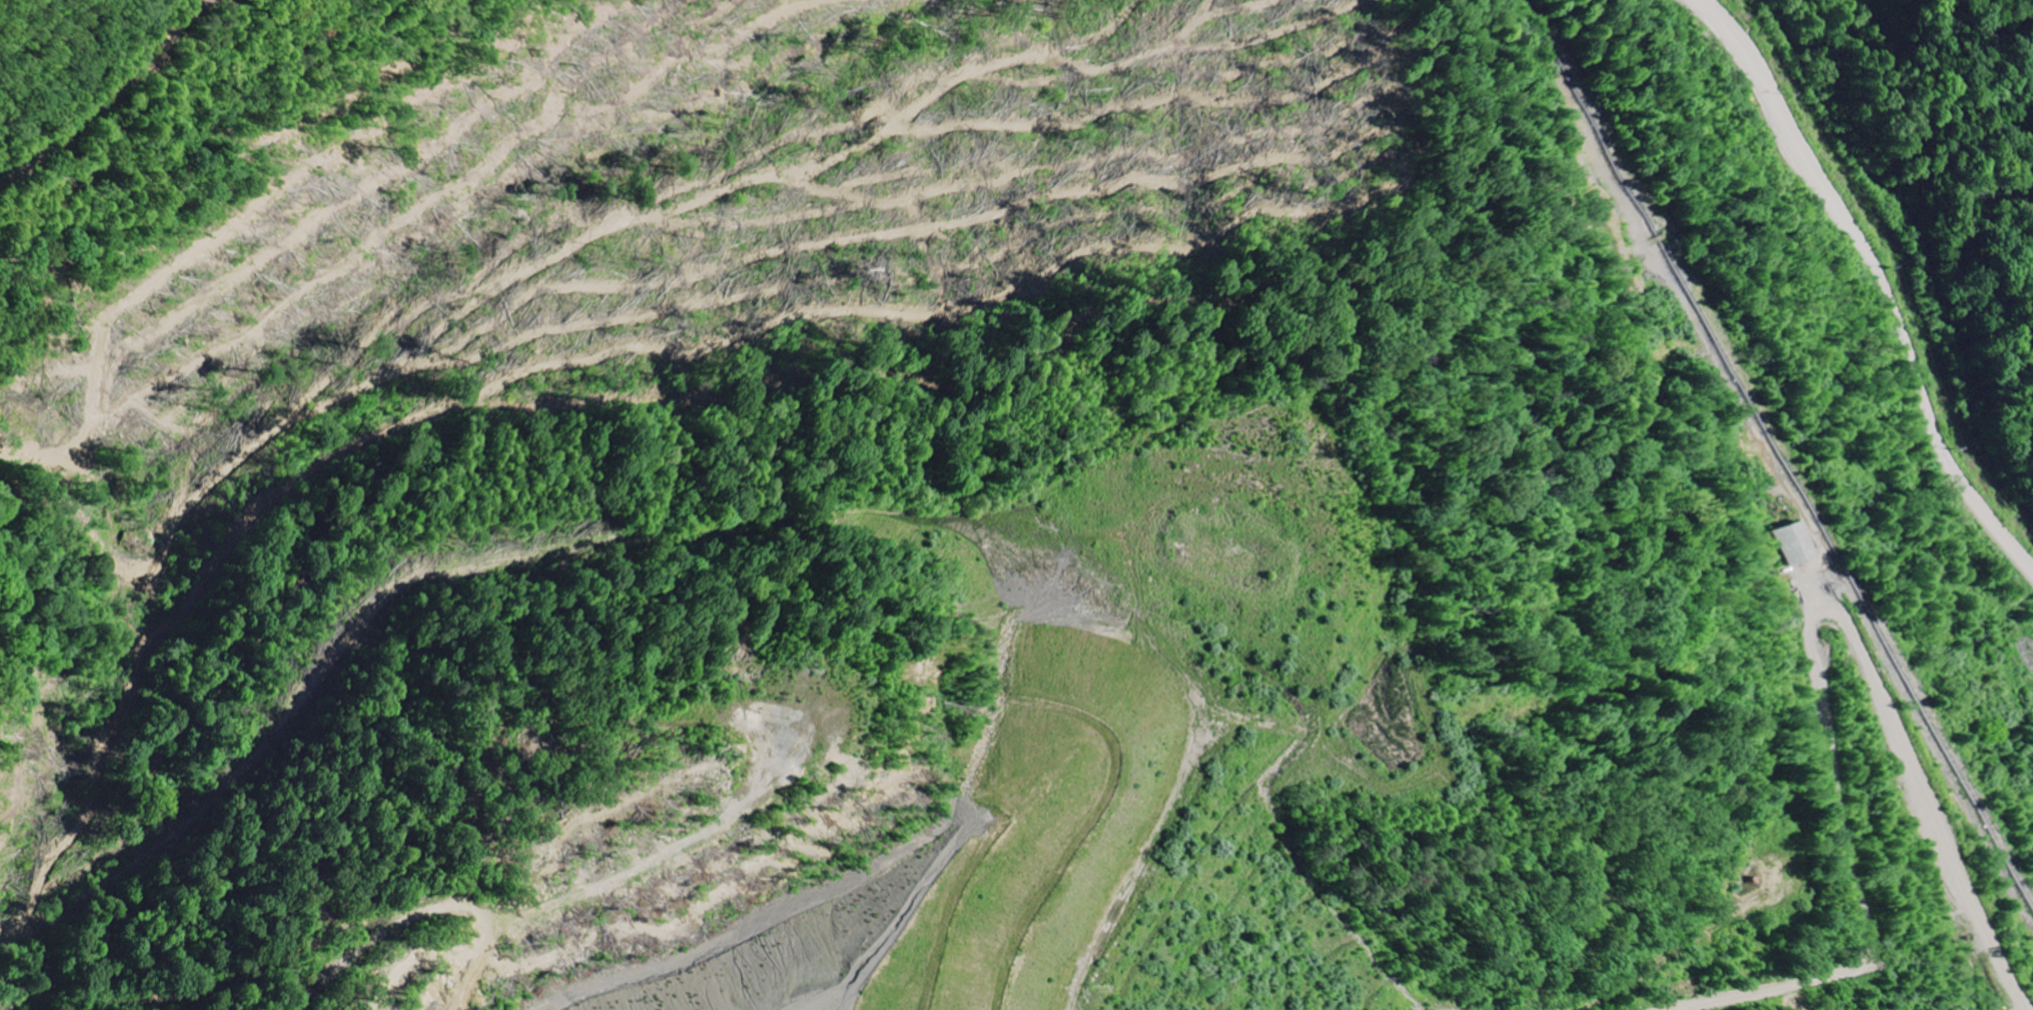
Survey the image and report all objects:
road: (1882, 336)
building: (1791, 544)

